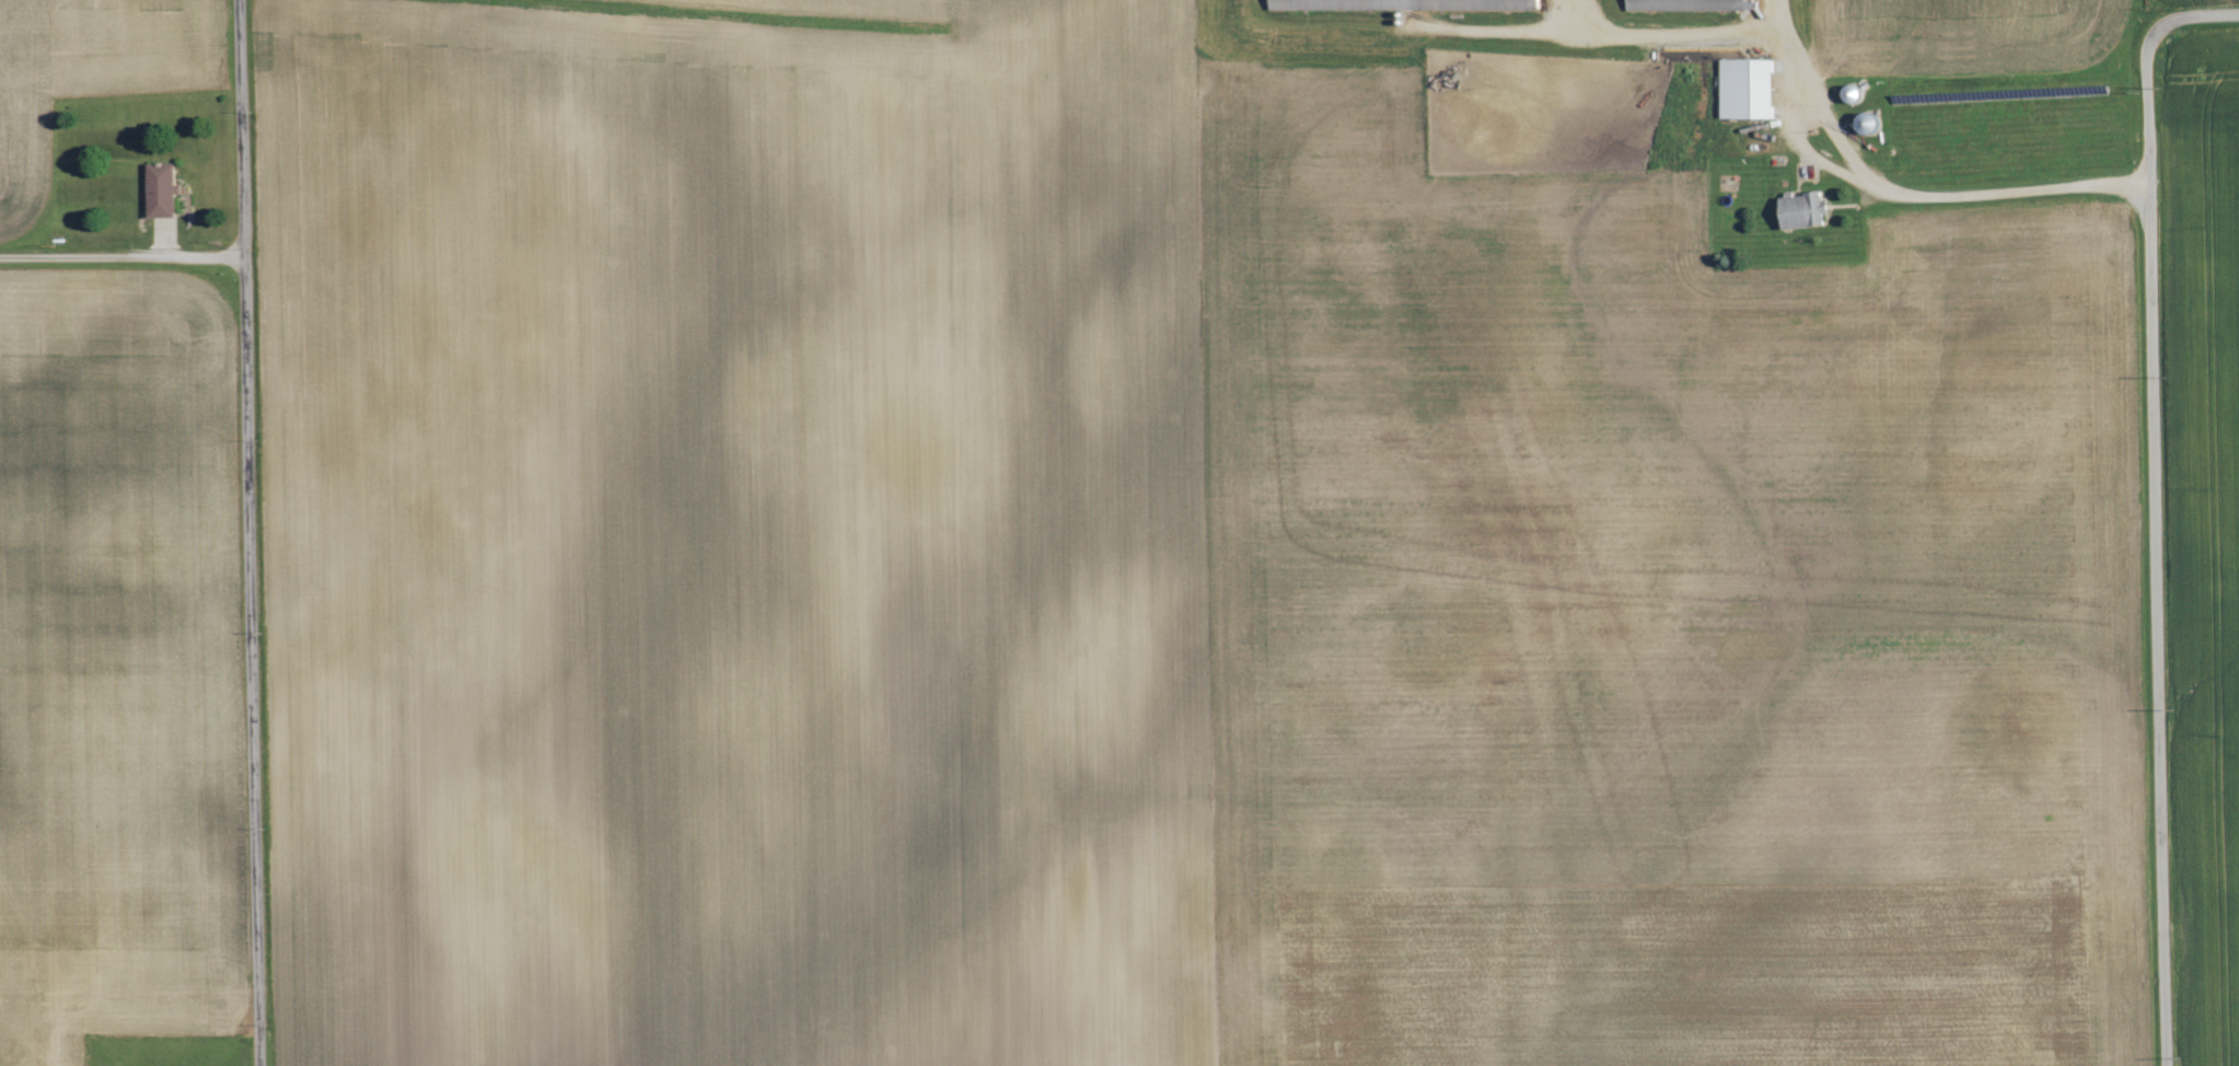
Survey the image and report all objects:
building: (1307, 5)
road: (2154, 63)
building: (1745, 90)
road: (1837, 134)
building: (160, 192)
building: (1801, 211)
road: (121, 254)
road: (247, 533)
road: (2153, 624)

